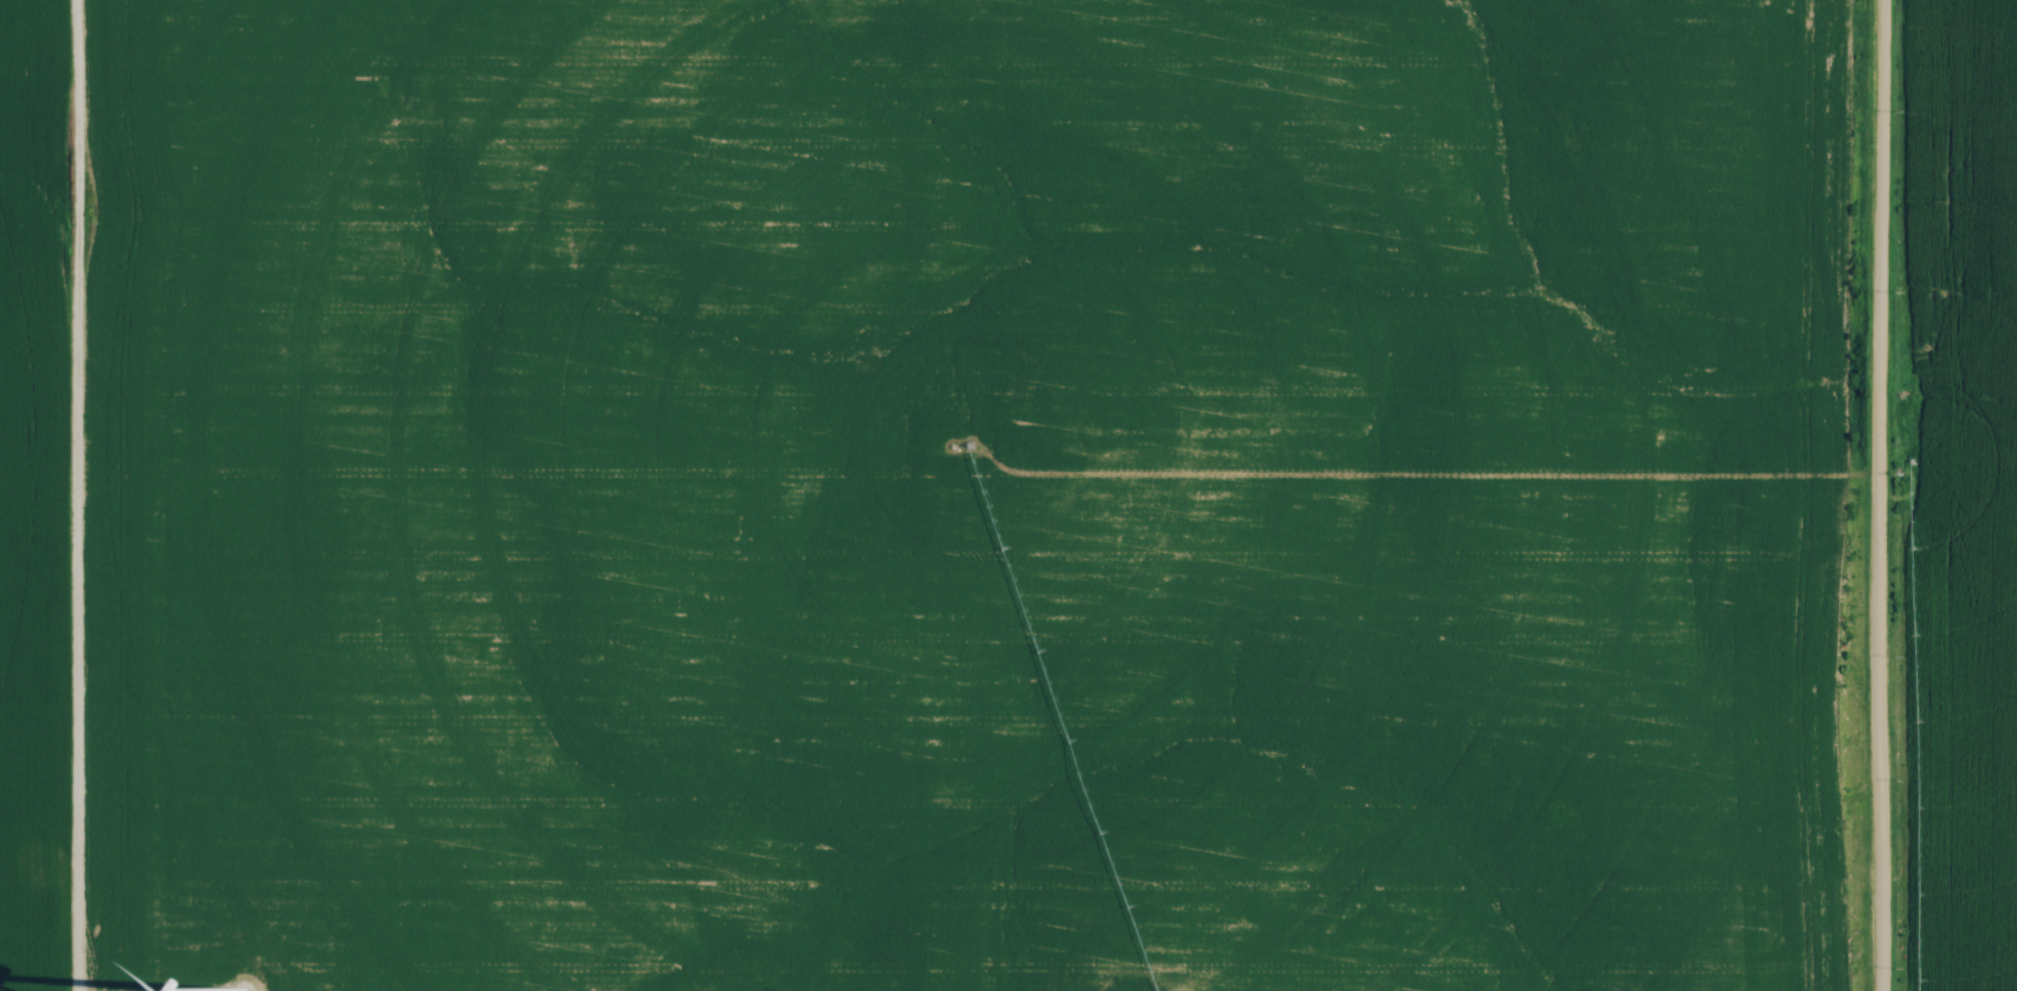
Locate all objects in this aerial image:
road: (77, 495)
road: (1876, 495)

